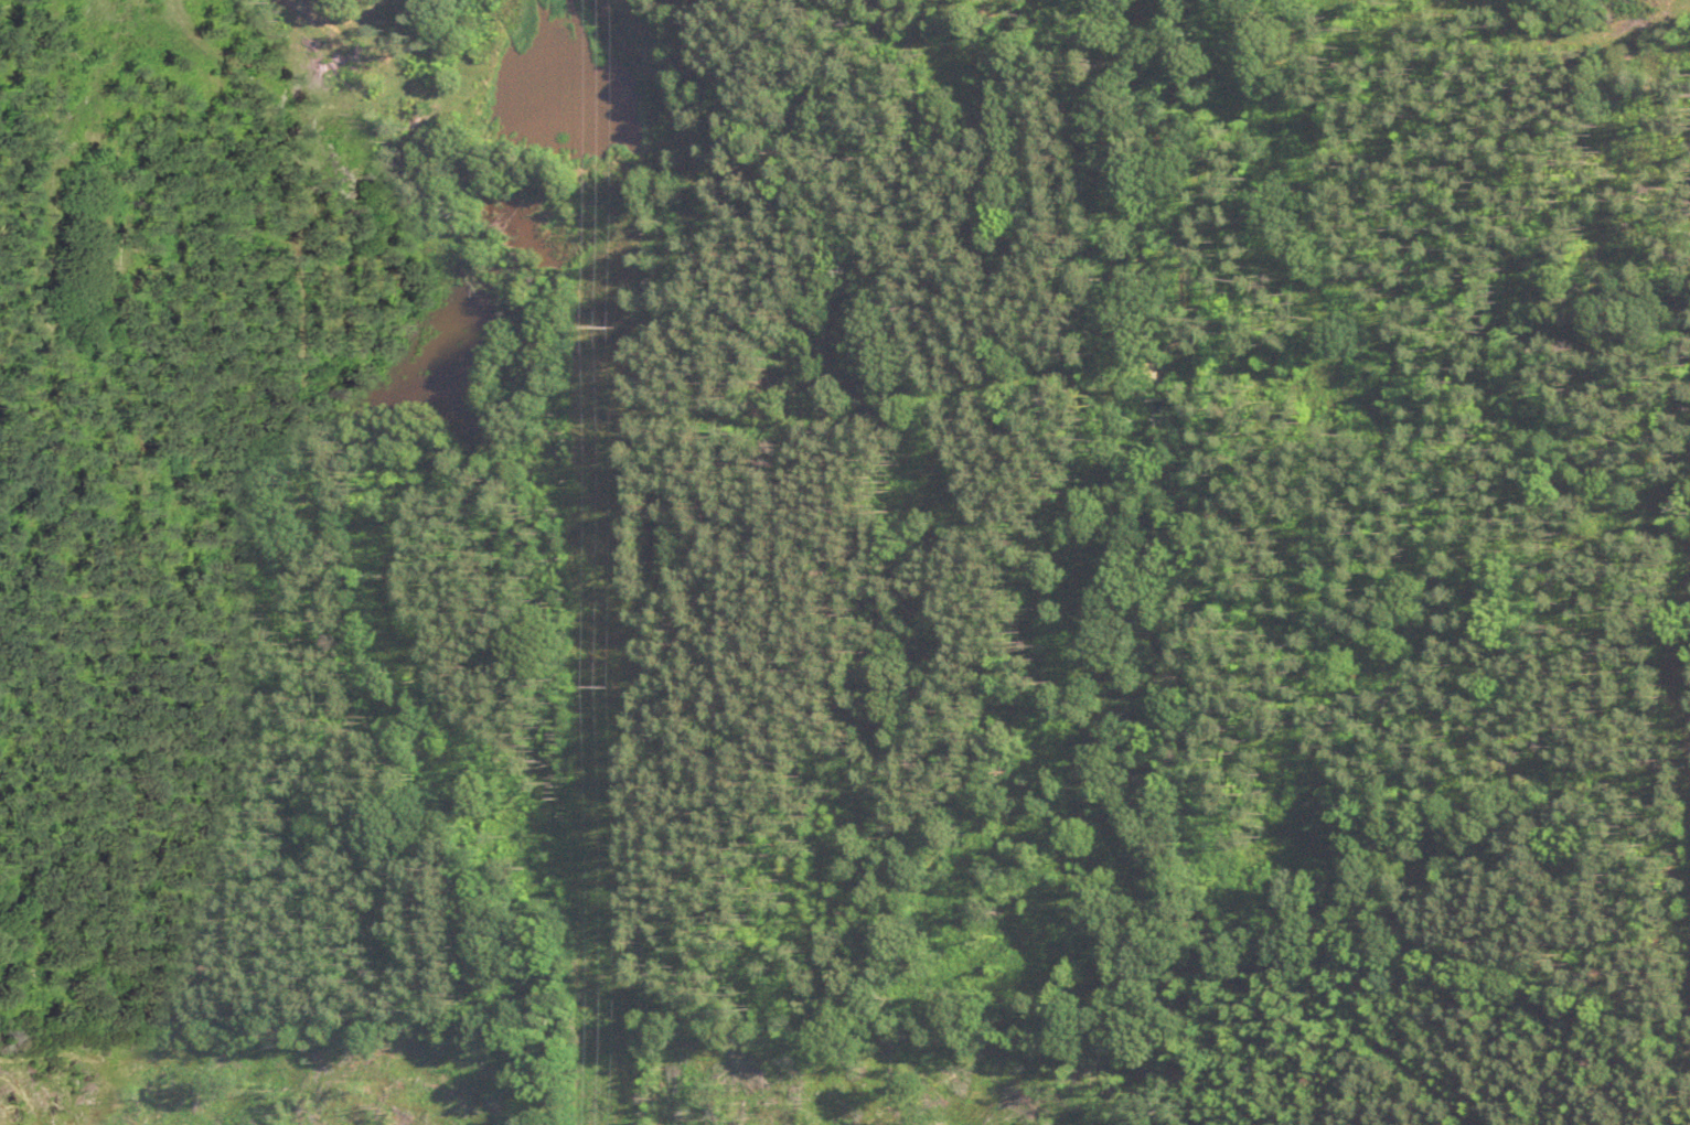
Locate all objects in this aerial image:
power tower: (608, 328)
power tower: (607, 683)

